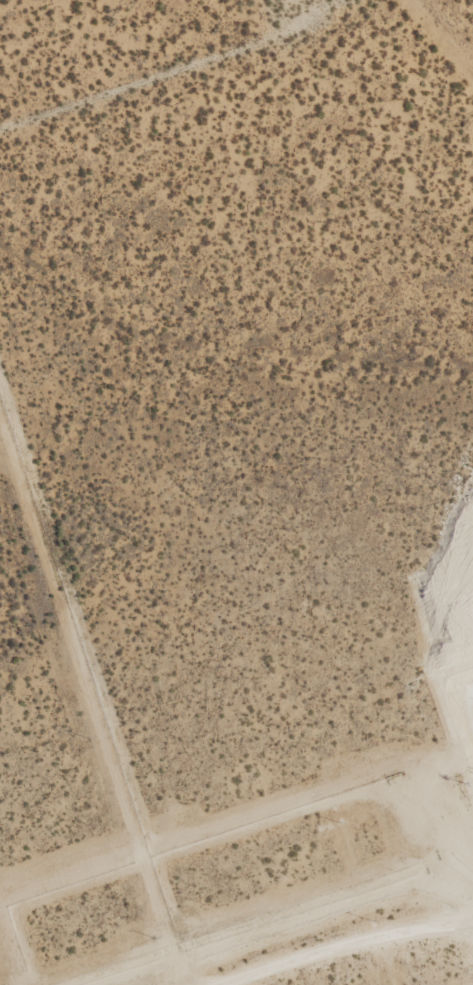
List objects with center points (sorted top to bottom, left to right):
road: (153, 62)
road: (455, 918)
road: (343, 939)

